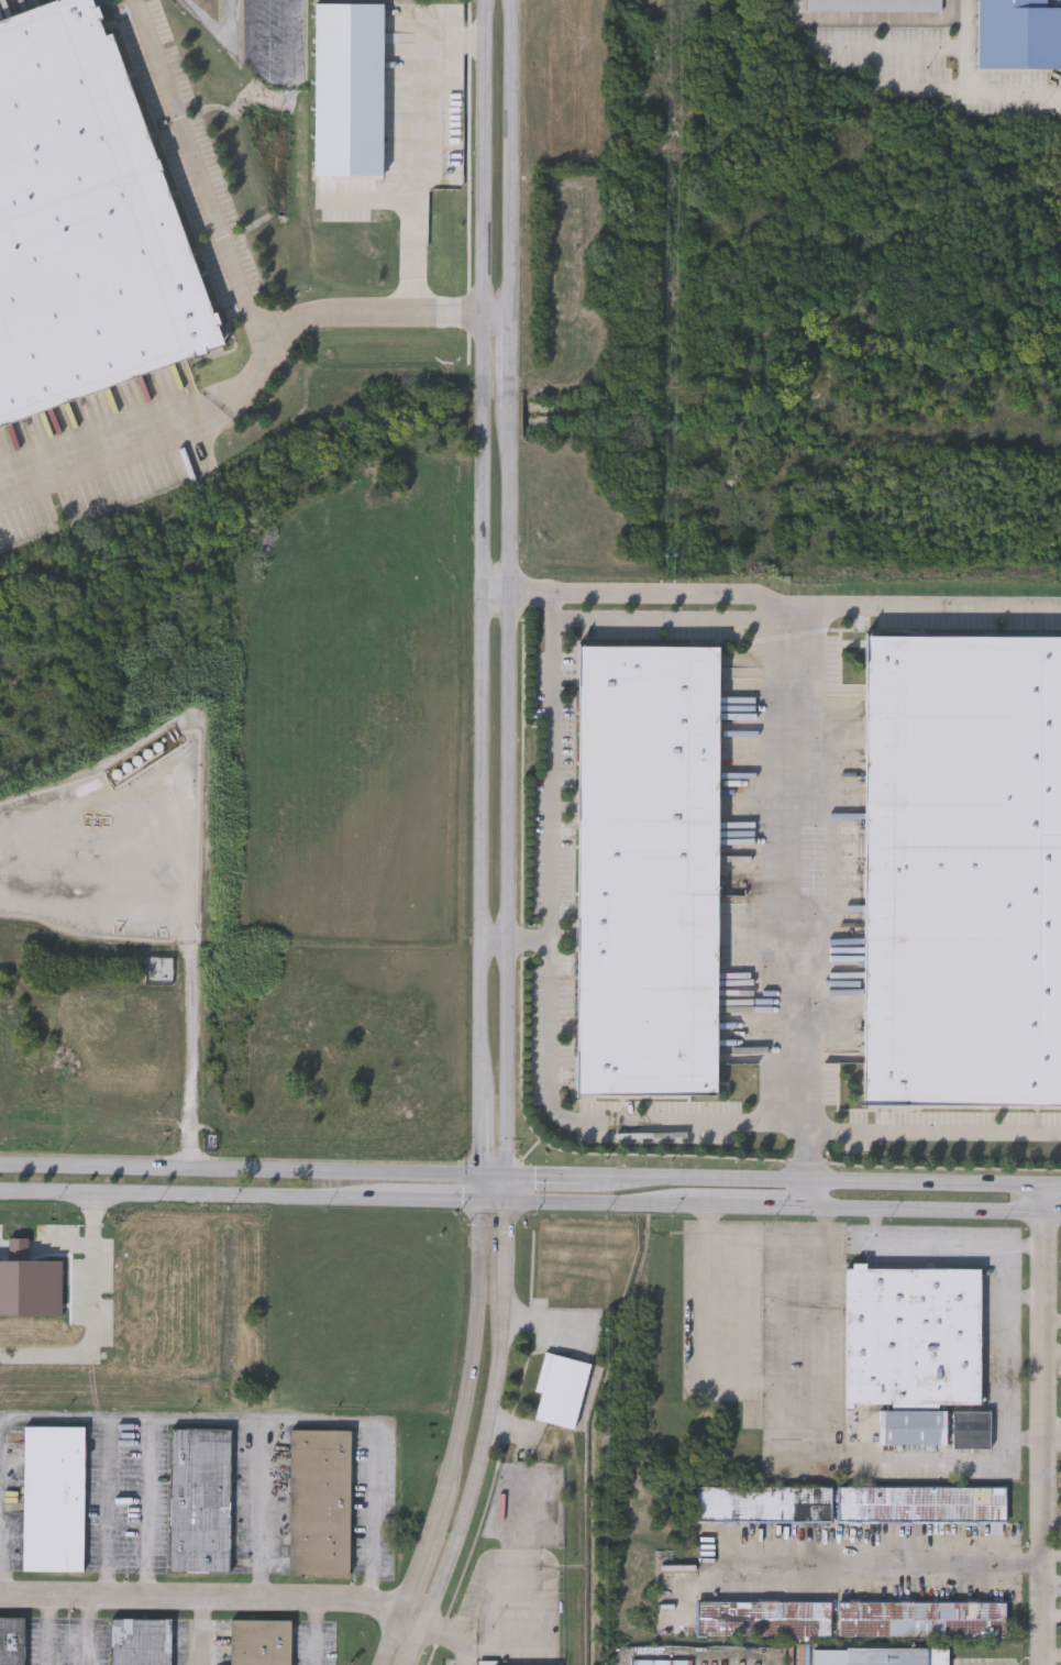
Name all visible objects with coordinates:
building: (874, 4)
road: (875, 15)
road: (229, 22)
road: (252, 30)
road: (288, 40)
road: (895, 47)
road: (969, 89)
road: (415, 150)
building: (84, 220)
road: (388, 315)
road: (264, 319)
road: (642, 586)
road: (510, 589)
road: (671, 618)
building: (153, 754)
road: (799, 775)
road: (480, 839)
building: (537, 850)
building: (962, 868)
building: (648, 870)
road: (516, 941)
road: (551, 977)
building: (535, 1035)
road: (191, 1061)
road: (933, 1128)
road: (253, 1170)
traffic signals: (482, 1179)
traffic signals: (506, 1179)
road: (543, 1179)
road: (813, 1179)
road: (1052, 1188)
road: (506, 1190)
traffic signals: (480, 1202)
traffic signals: (506, 1202)
road: (530, 1202)
road: (942, 1242)
road: (1024, 1295)
road: (96, 1322)
road: (542, 1324)
building: (911, 1346)
road: (1004, 1359)
road: (763, 1380)
building: (561, 1389)
road: (824, 1408)
road: (237, 1418)
road: (509, 1421)
road: (1043, 1425)
building: (971, 1429)
road: (485, 1438)
road: (1, 1455)
road: (920, 1464)
building: (54, 1498)
building: (200, 1498)
building: (319, 1500)
building: (764, 1503)
building: (922, 1503)
road: (147, 1509)
road: (258, 1510)
road: (892, 1559)
road: (214, 1601)
building: (764, 1619)
building: (924, 1619)
road: (462, 1630)
road: (45, 1633)
road: (88, 1633)
road: (199, 1633)
road: (313, 1633)
building: (11, 1640)
building: (140, 1641)
building: (258, 1641)
building: (881, 1655)

